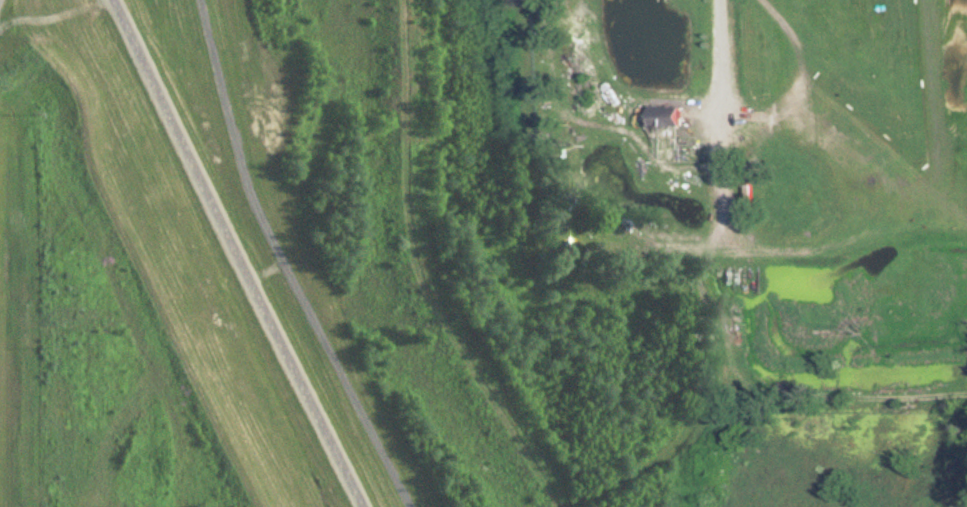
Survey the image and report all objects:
road: (761, 113)
building: (660, 116)

